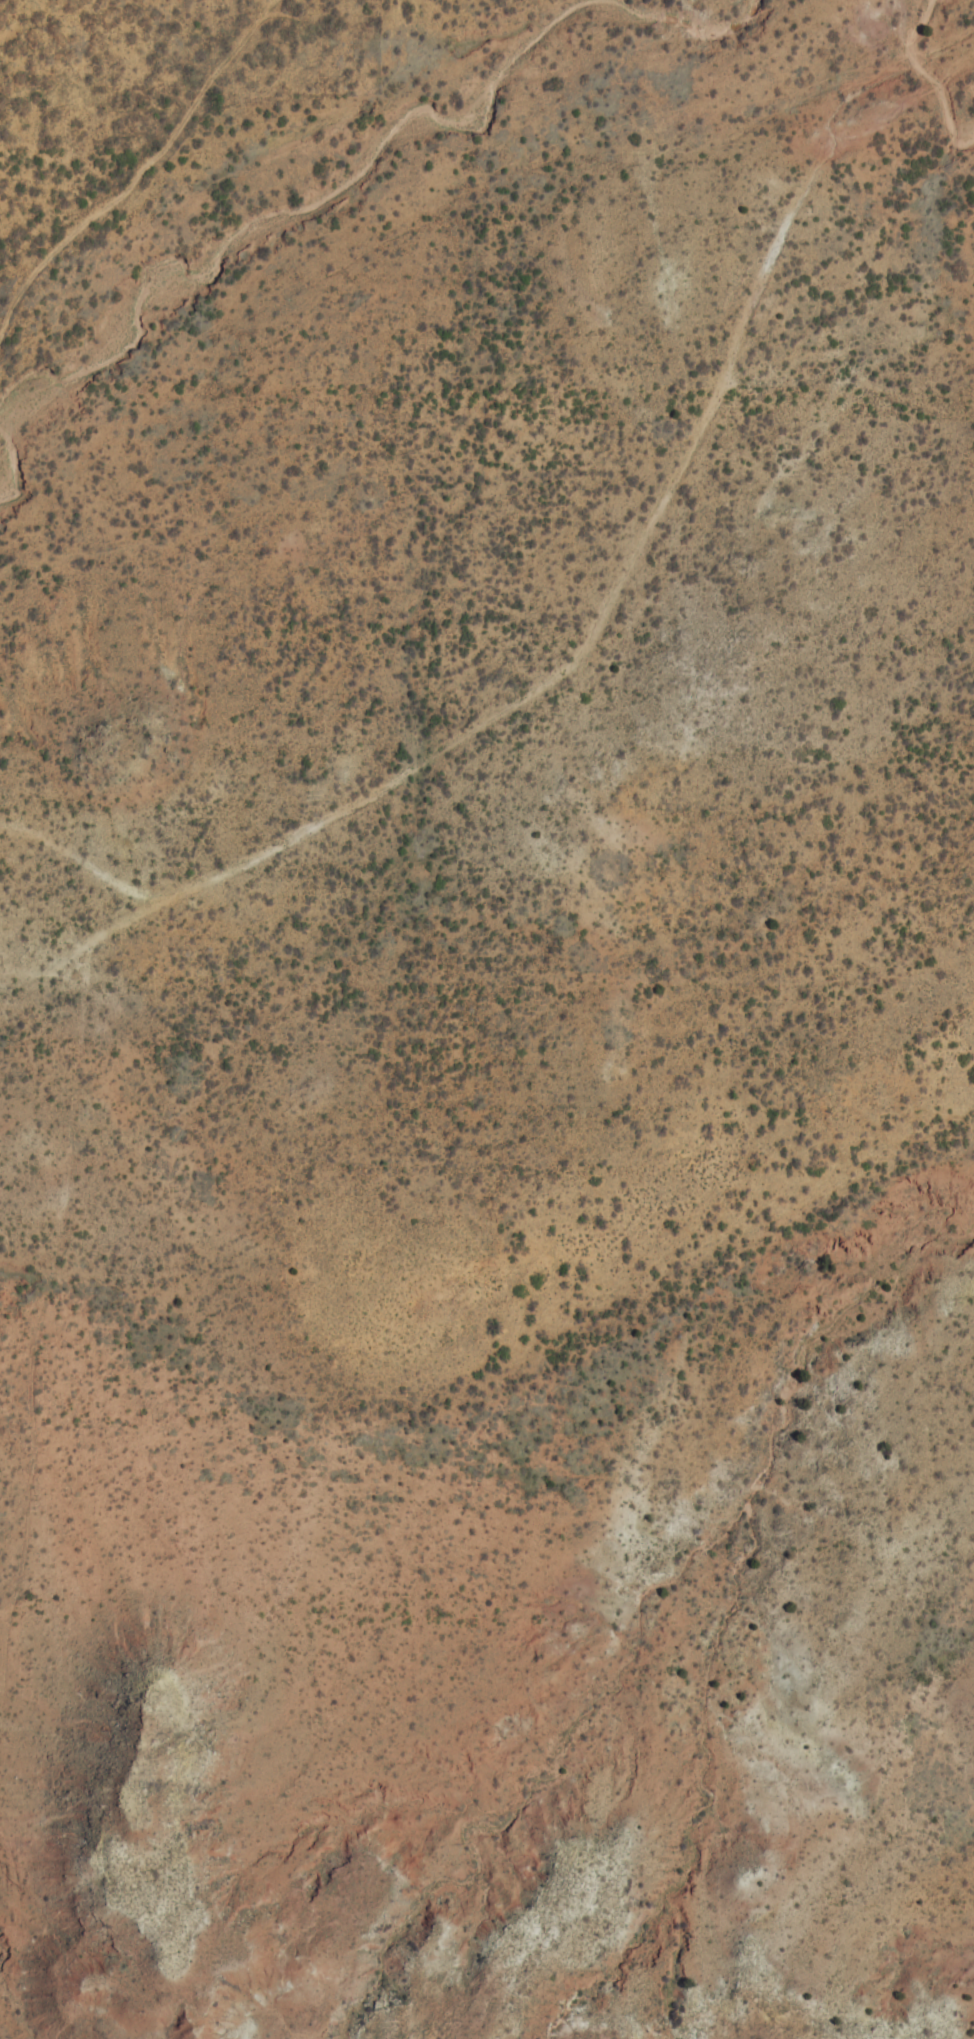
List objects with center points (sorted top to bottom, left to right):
road: (146, 153)

